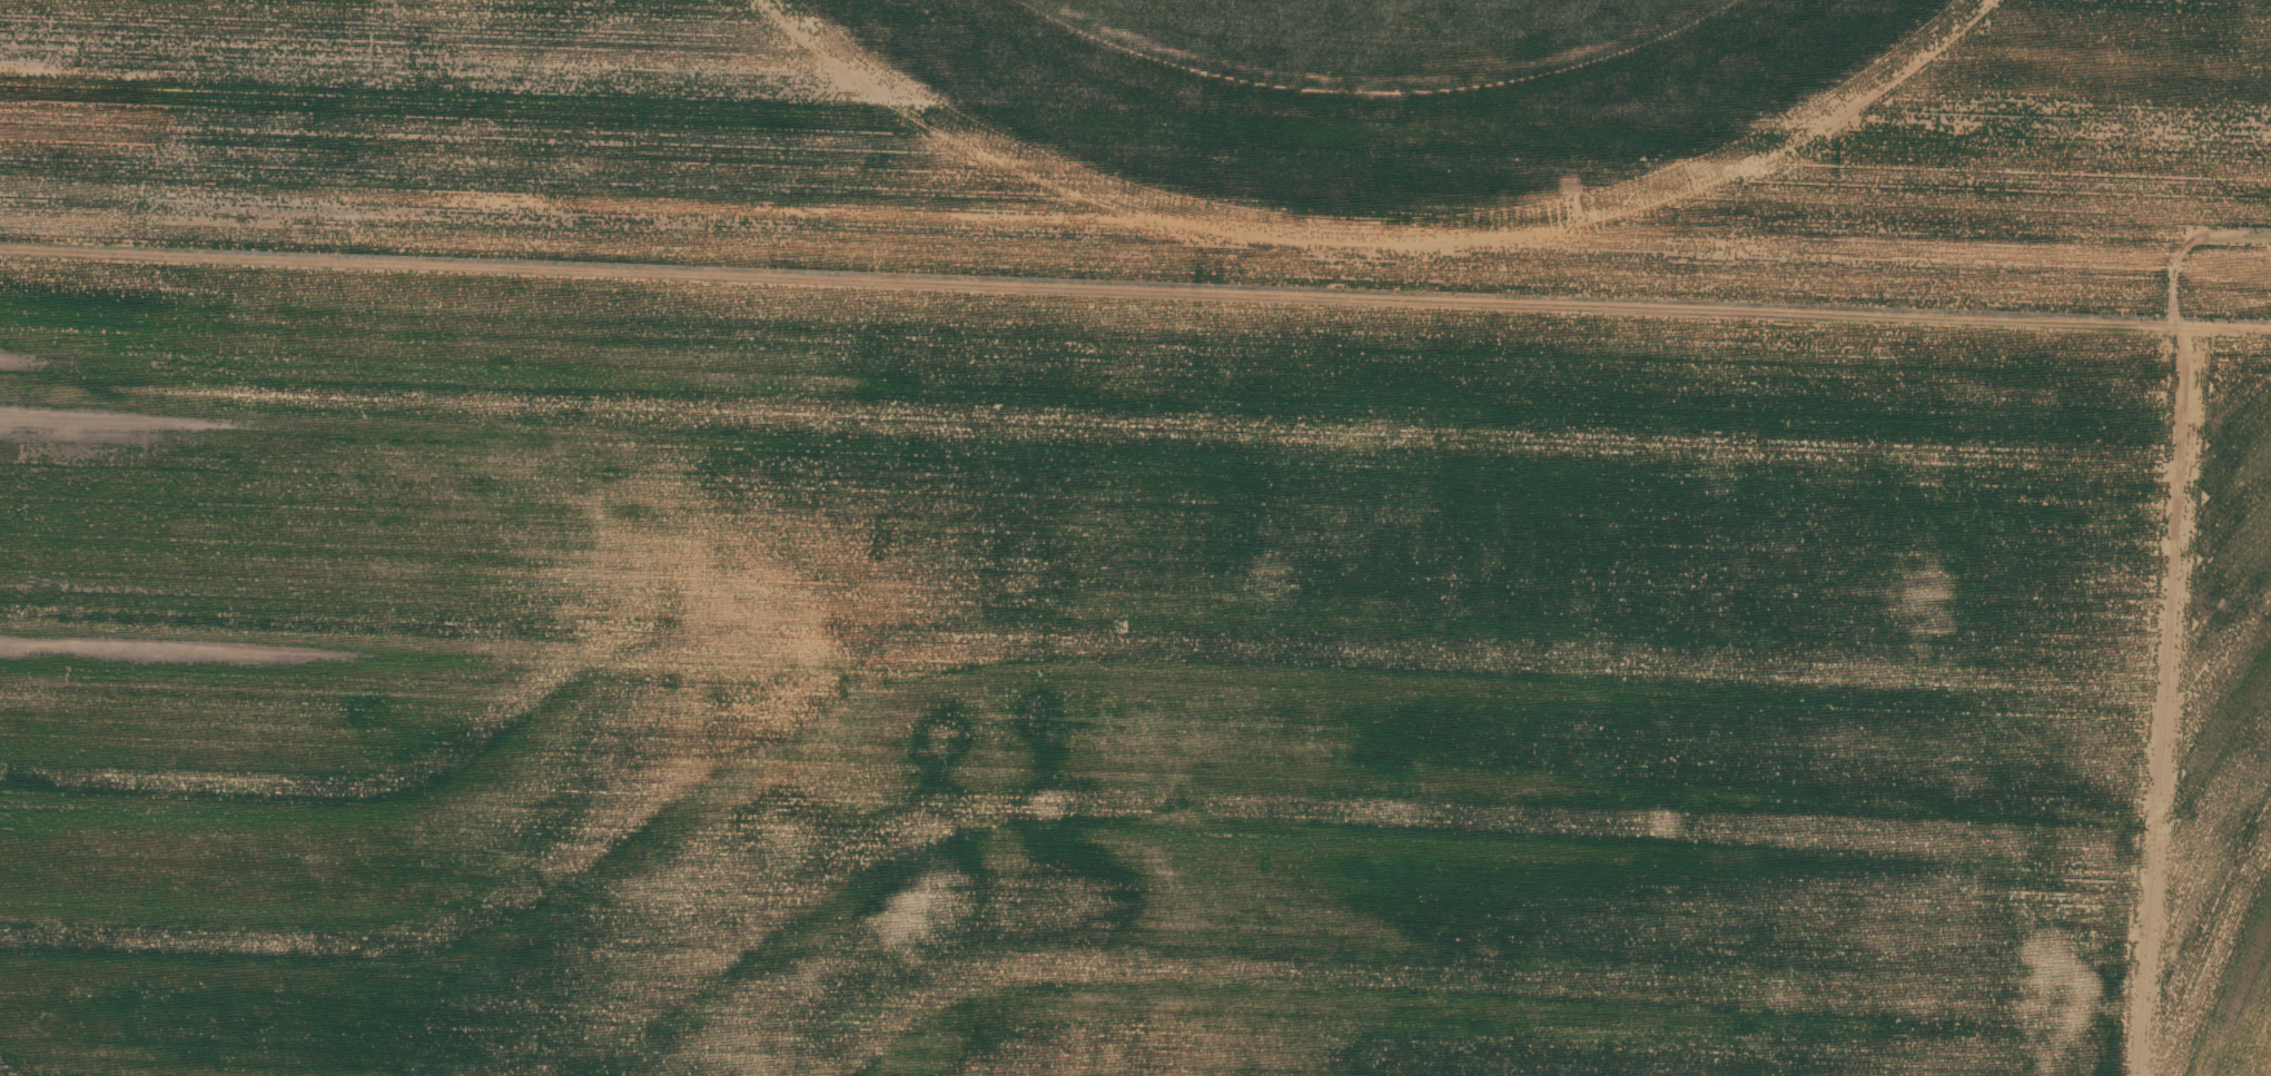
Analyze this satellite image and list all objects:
crop: (1345, 57)
airport: (1177, 145)
road: (2105, 767)

